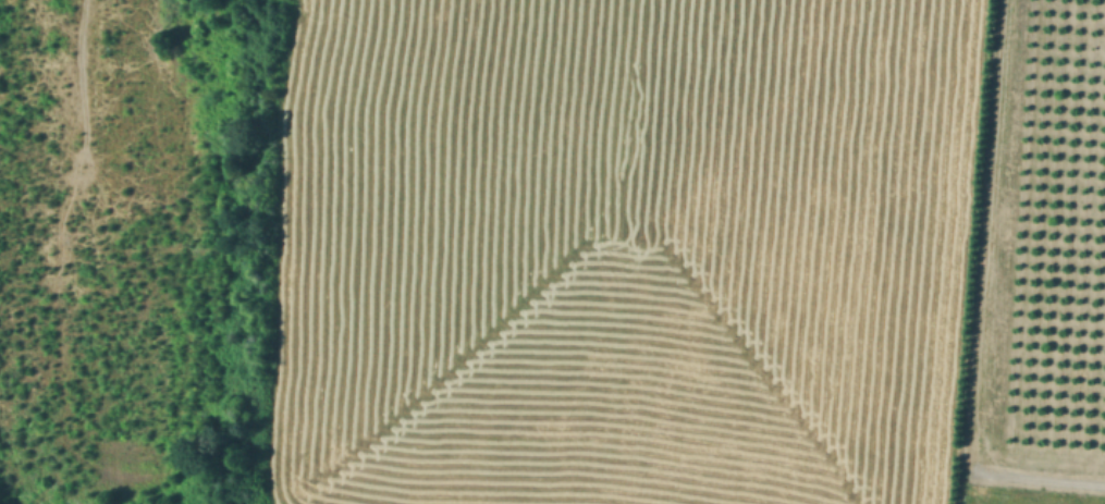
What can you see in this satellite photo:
road: (79, 12)
road: (88, 98)
crop: (617, 250)

